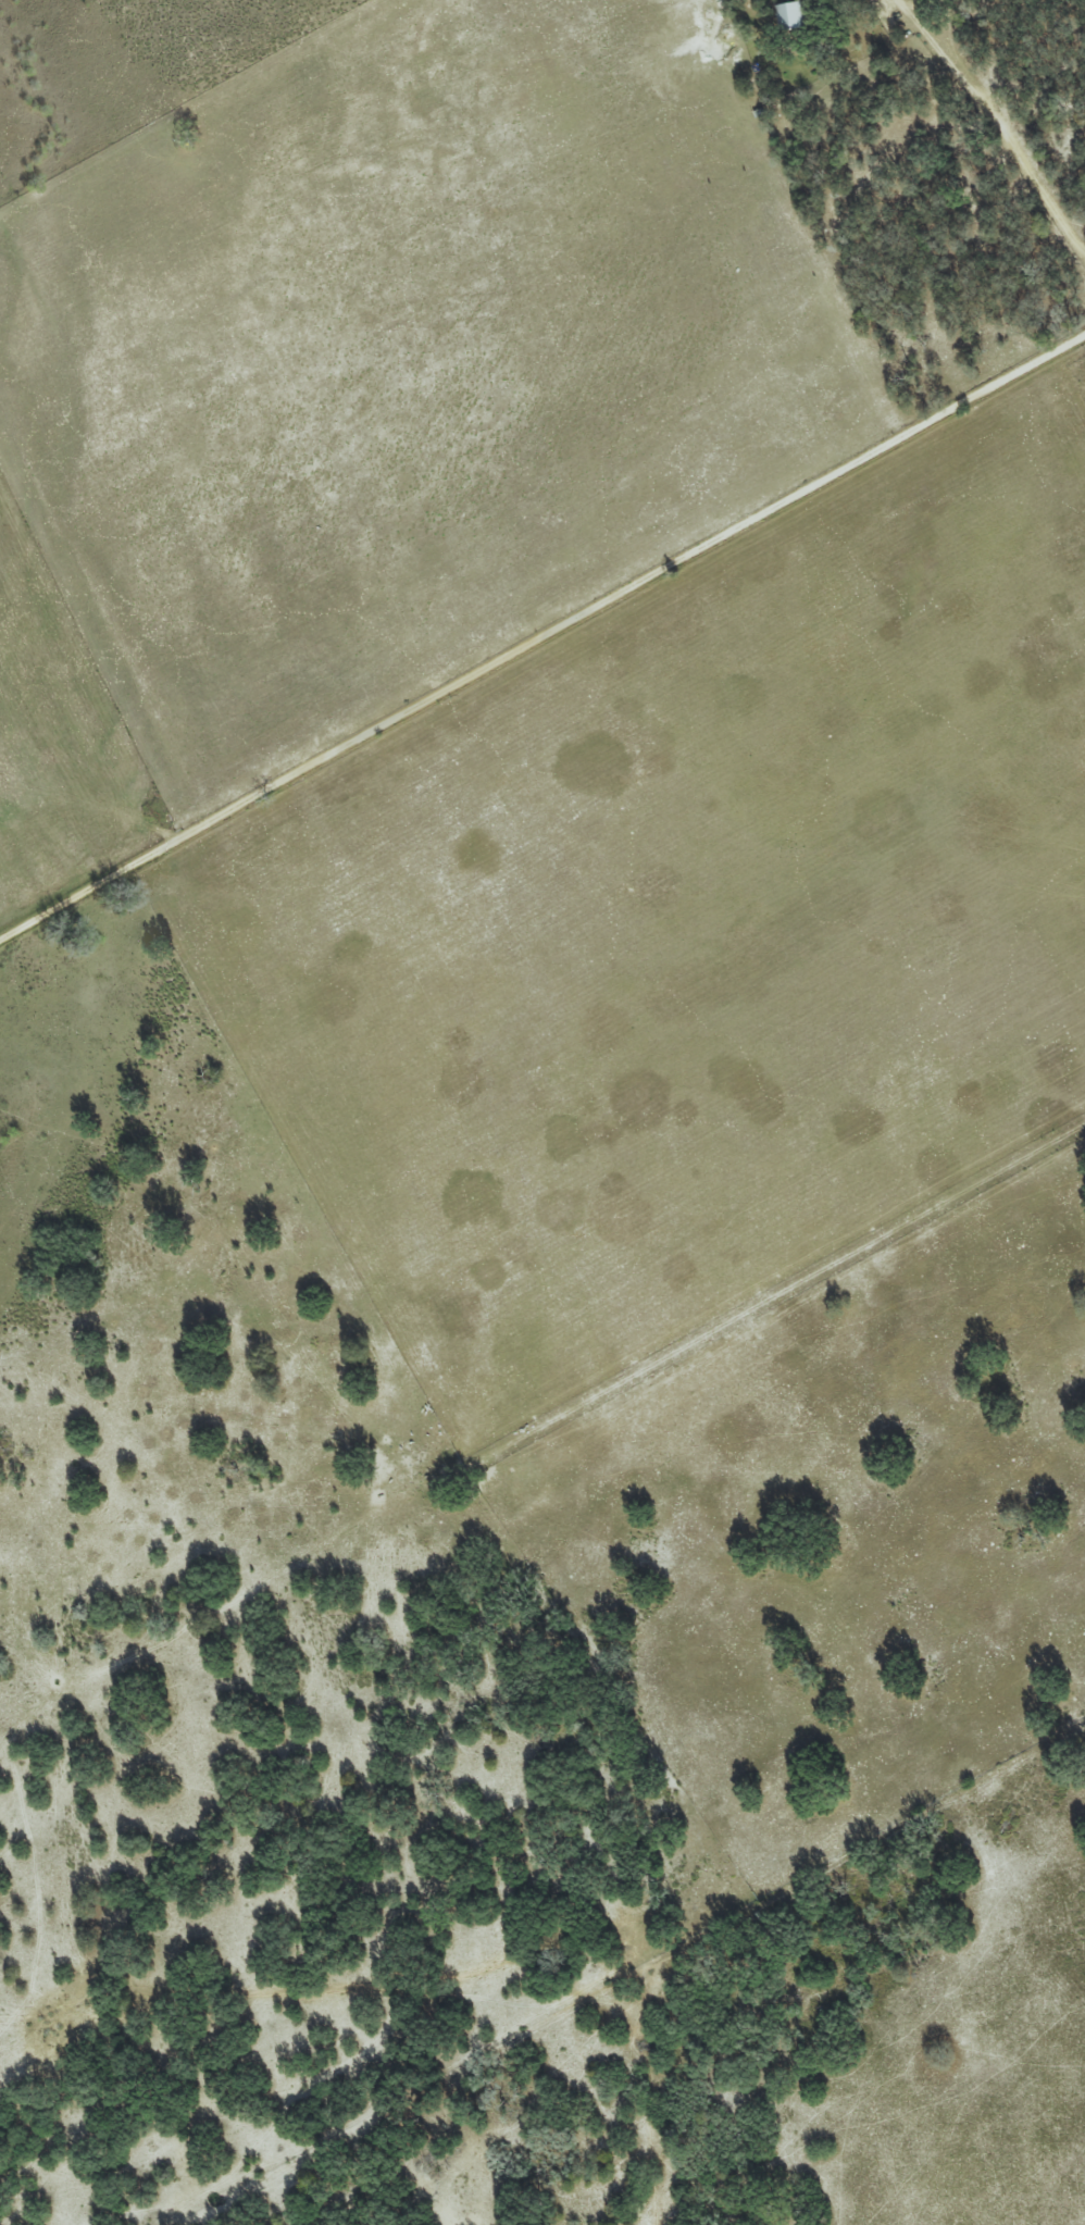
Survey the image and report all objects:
building: (790, 14)
road: (541, 641)

